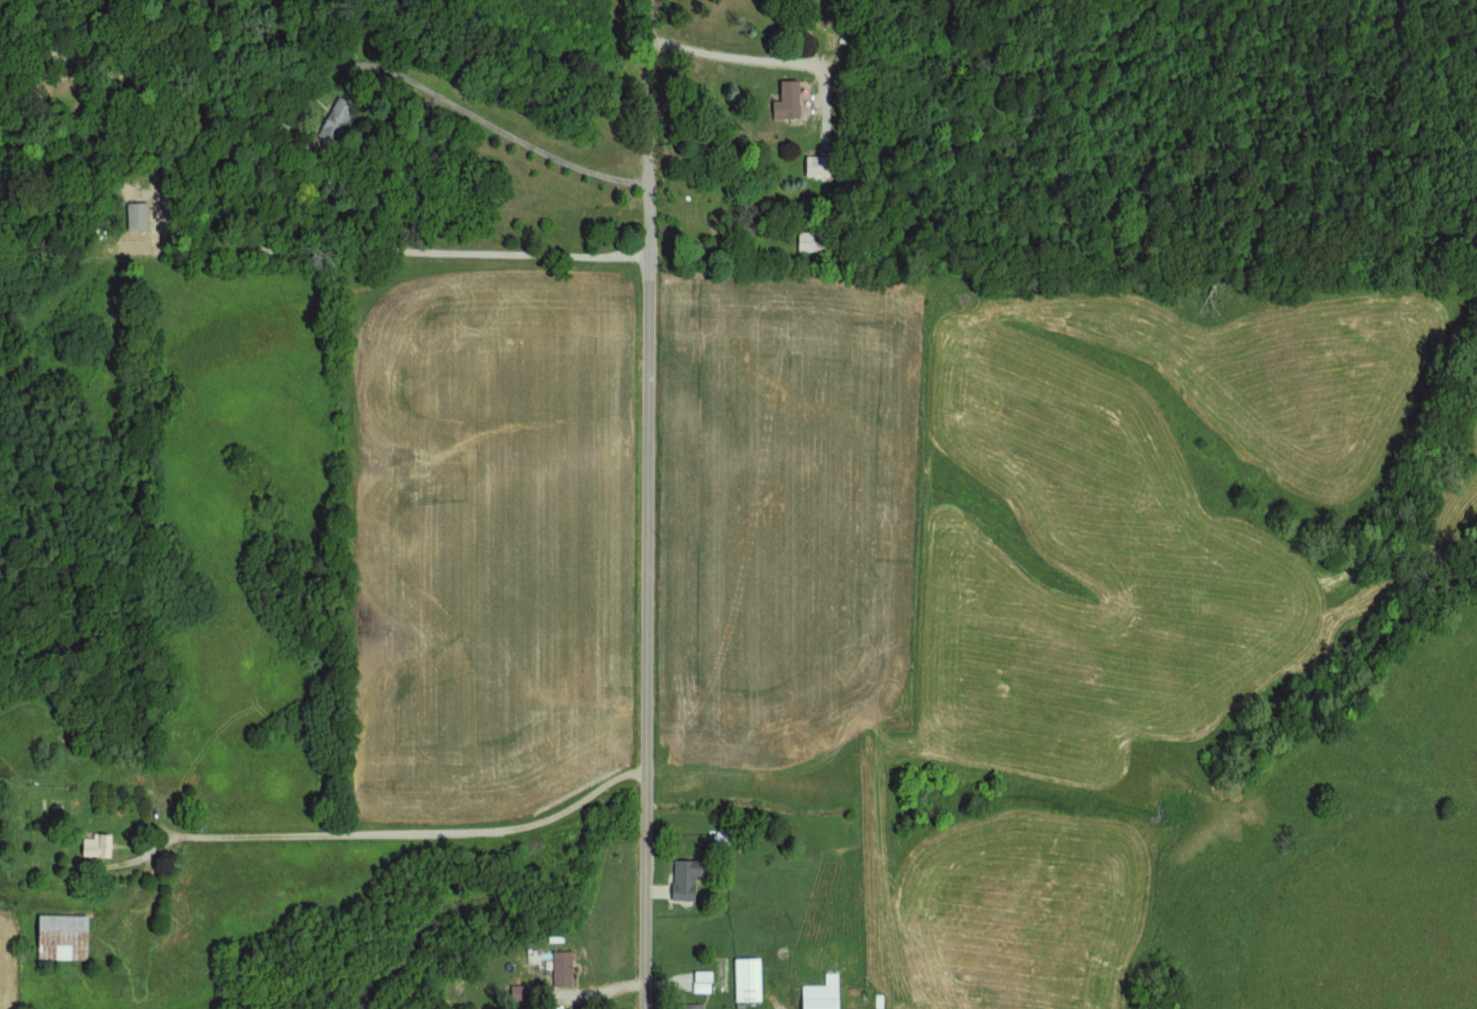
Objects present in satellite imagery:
road: (773, 62)
building: (649, 75)
building: (794, 102)
building: (342, 121)
road: (474, 136)
building: (823, 168)
building: (142, 218)
building: (818, 244)
road: (266, 249)
road: (648, 504)
road: (403, 836)
building: (730, 837)
building: (102, 848)
building: (692, 879)
building: (69, 939)
building: (568, 970)
building: (754, 982)
building: (828, 994)
road: (596, 995)
building: (523, 996)
building: (700, 1007)

